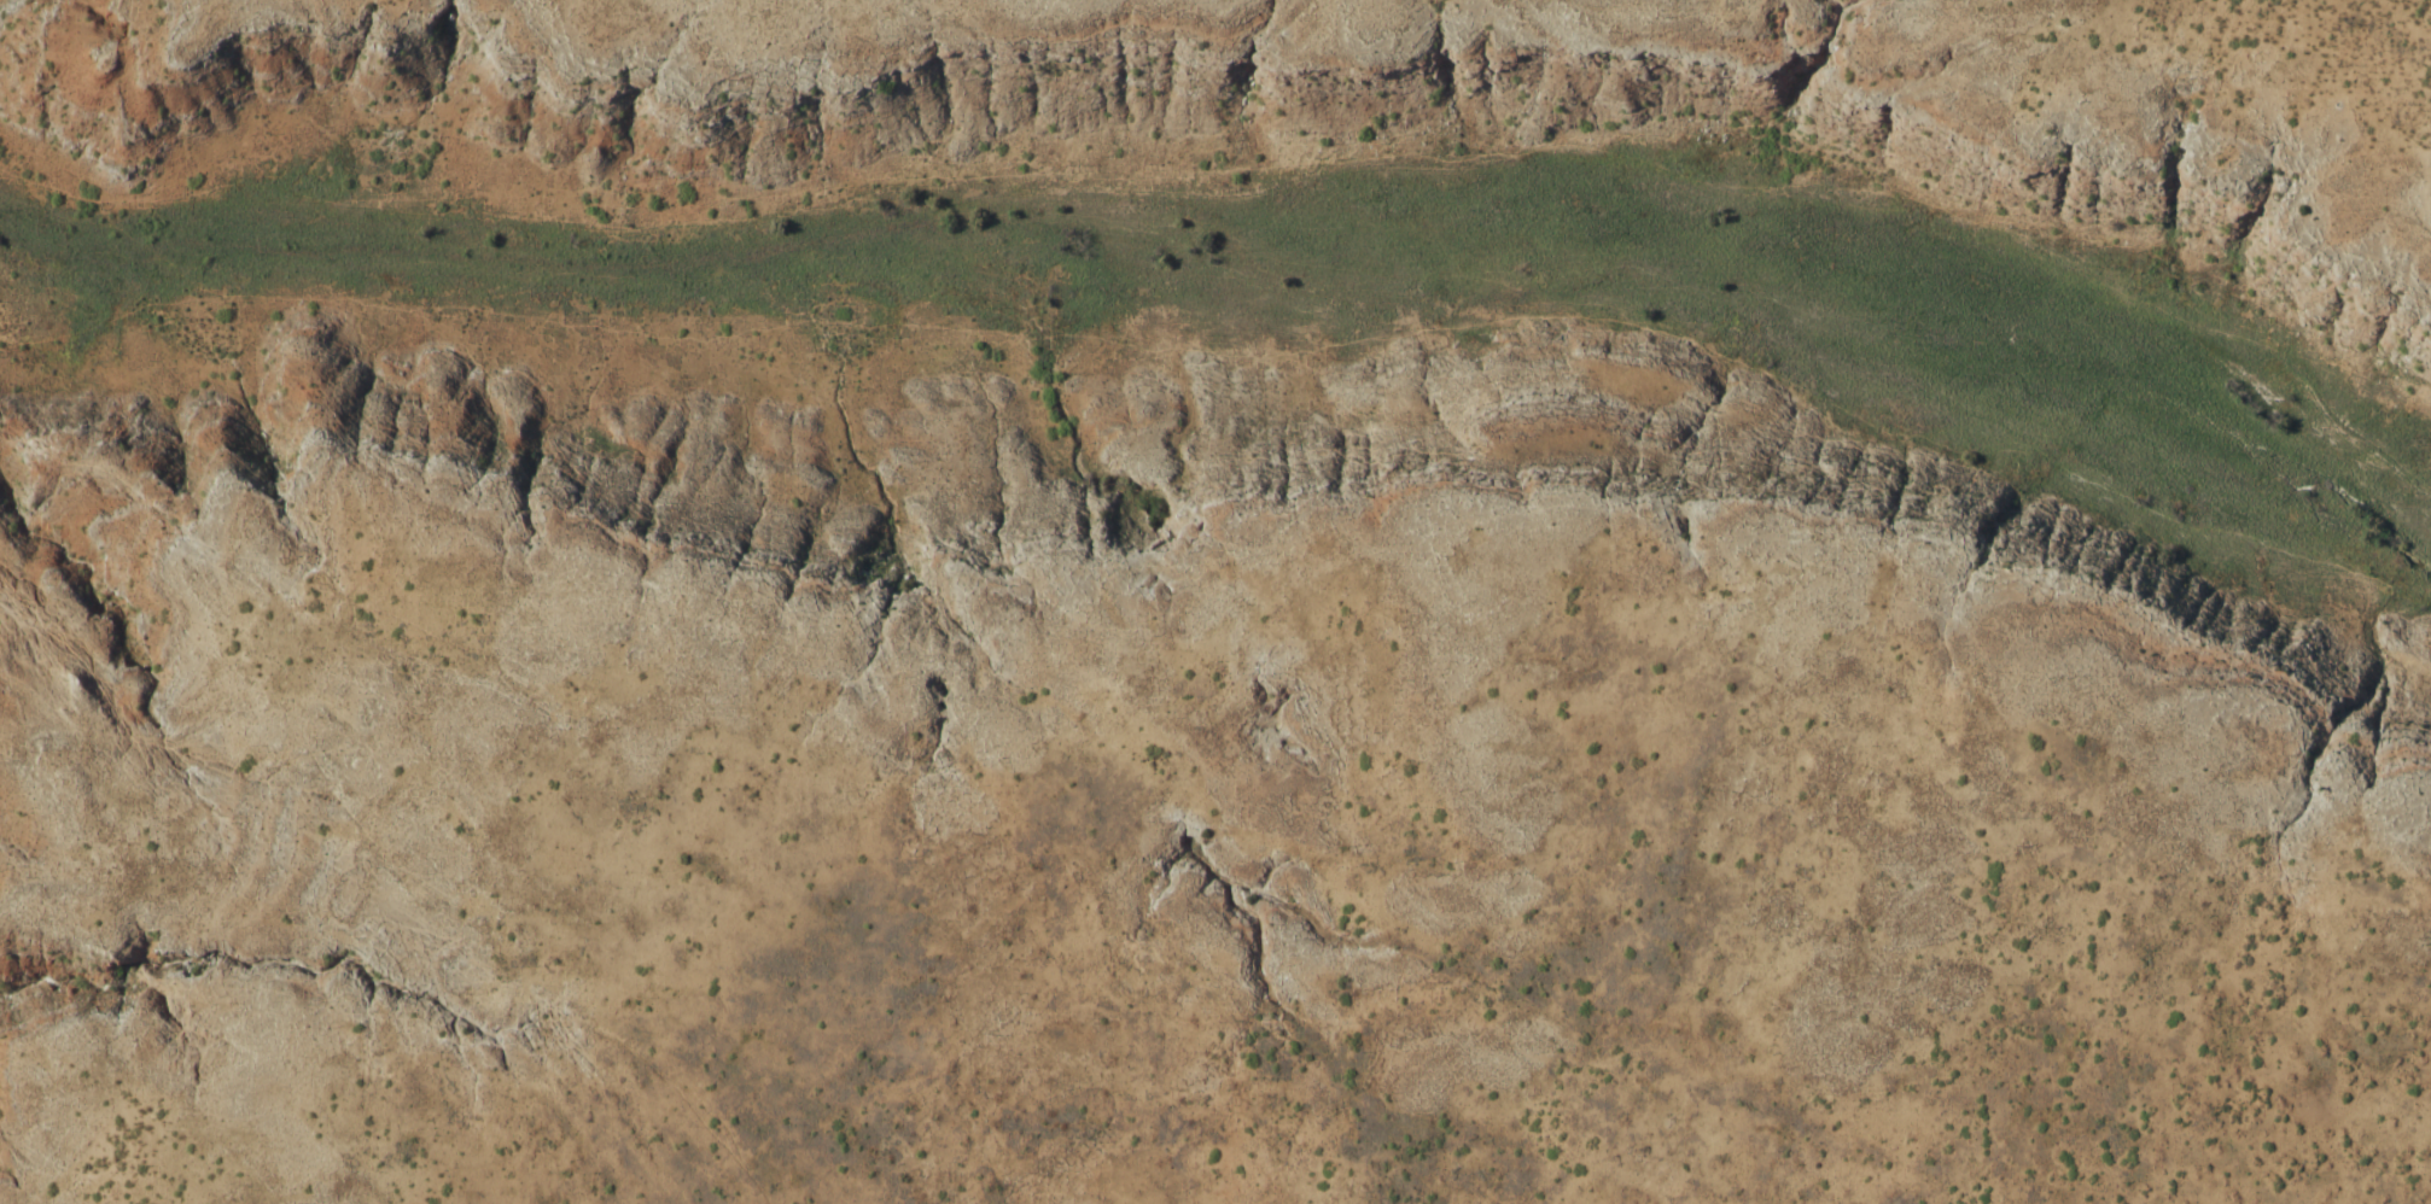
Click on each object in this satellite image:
road: (1236, 124)

